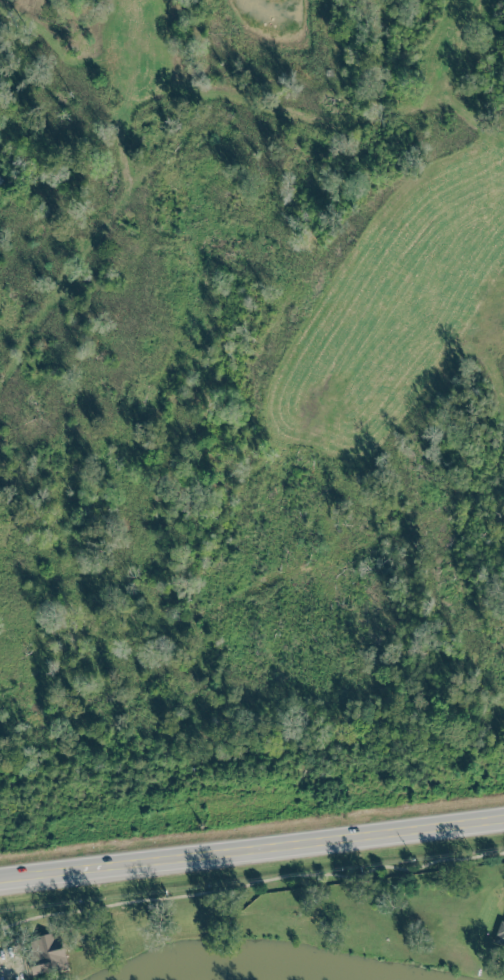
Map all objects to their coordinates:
railway: (251, 780)
road: (252, 846)
building: (498, 931)
building: (44, 951)

